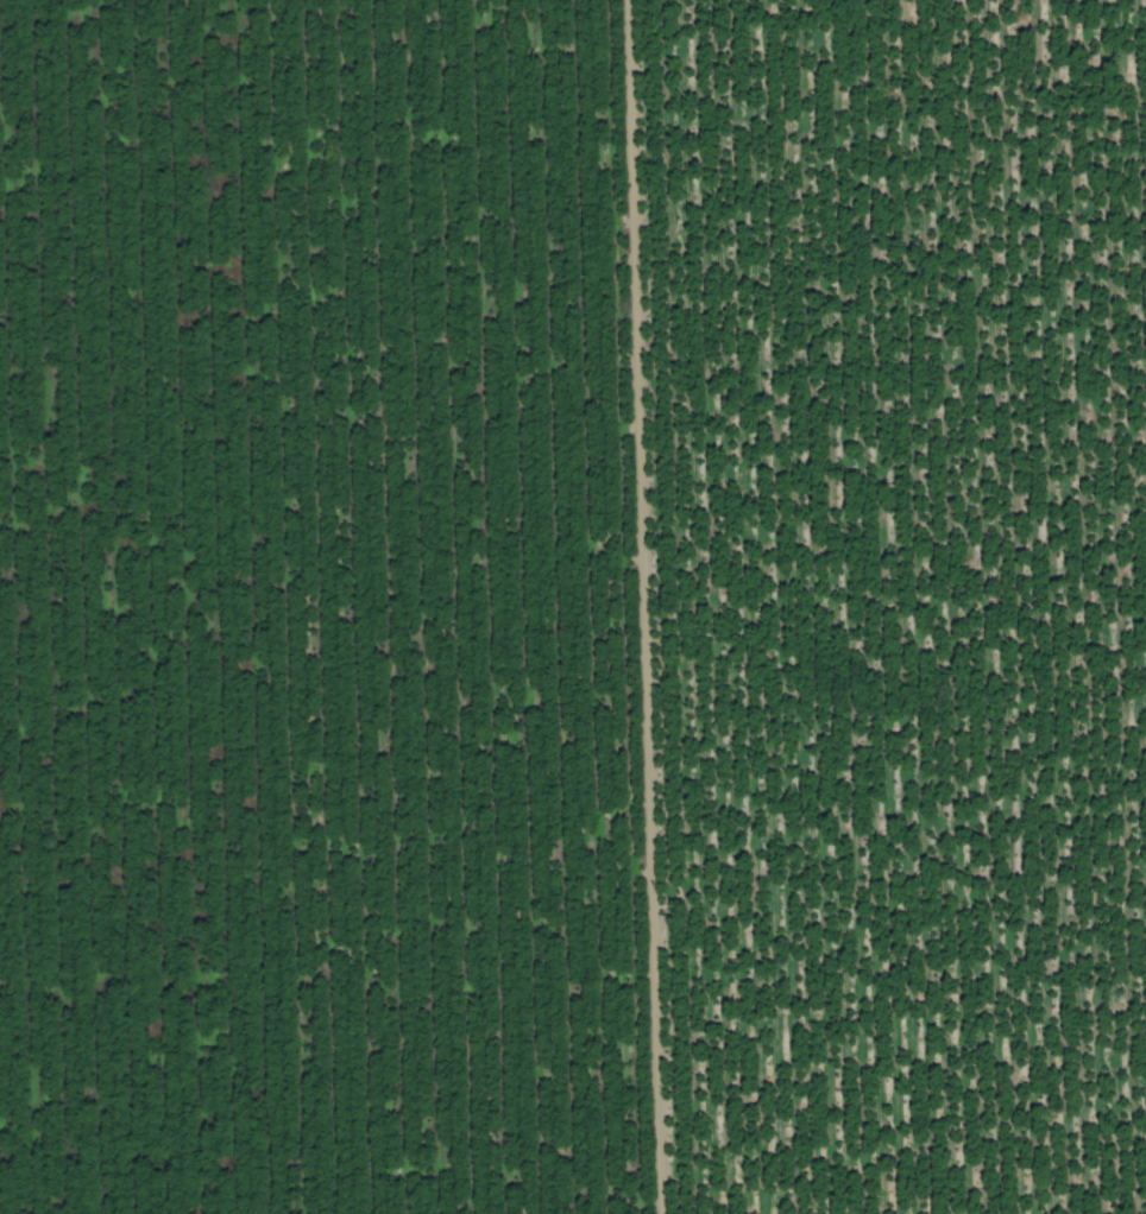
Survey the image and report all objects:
road: (640, 607)

